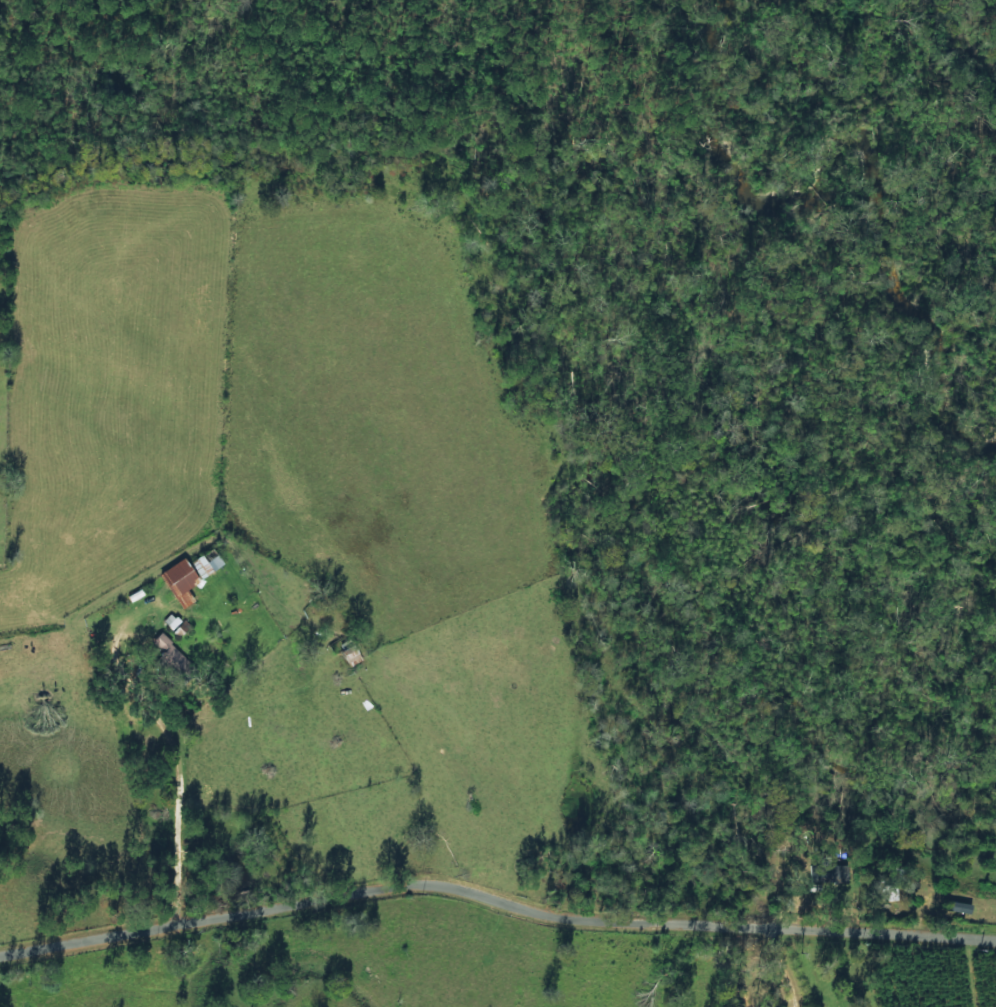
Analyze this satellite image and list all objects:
building: (190, 574)
building: (170, 652)
building: (353, 654)
road: (497, 927)

